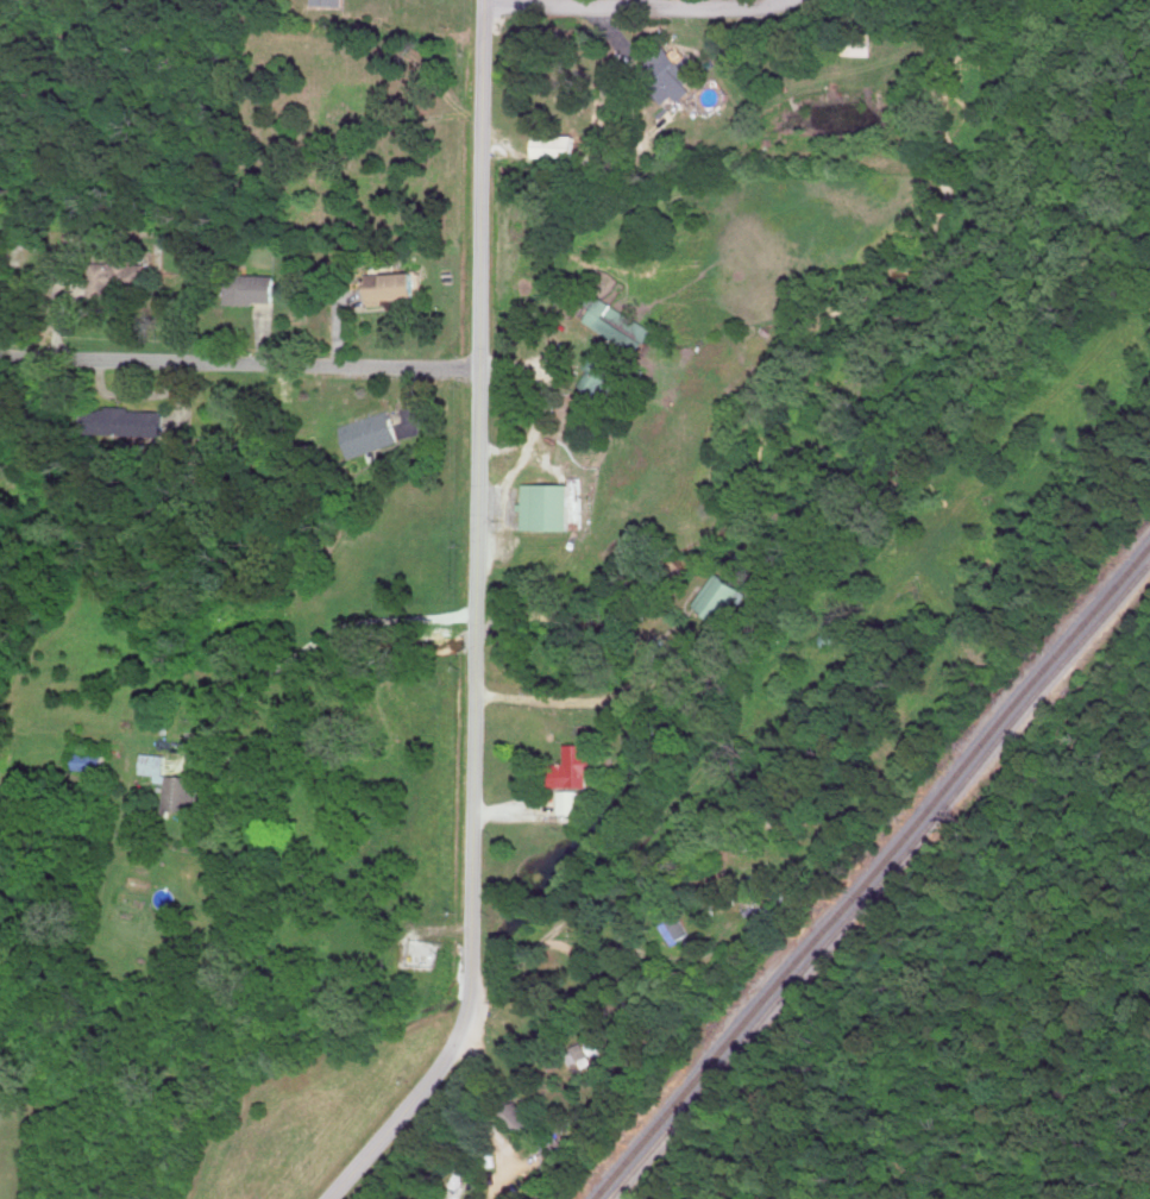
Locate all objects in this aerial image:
building: (327, 1)
road: (641, 6)
building: (666, 74)
building: (557, 144)
building: (118, 275)
building: (392, 285)
building: (253, 287)
building: (620, 324)
road: (240, 362)
building: (596, 377)
building: (127, 420)
building: (370, 432)
building: (547, 504)
road: (573, 506)
building: (723, 596)
road: (477, 622)
road: (315, 640)
road: (578, 702)
building: (580, 762)
building: (172, 780)
building: (568, 801)
railway: (872, 871)
railway: (879, 881)
building: (774, 894)
road: (593, 909)
road: (572, 979)
building: (578, 1054)
road: (489, 1112)
building: (517, 1115)
building: (554, 1145)

